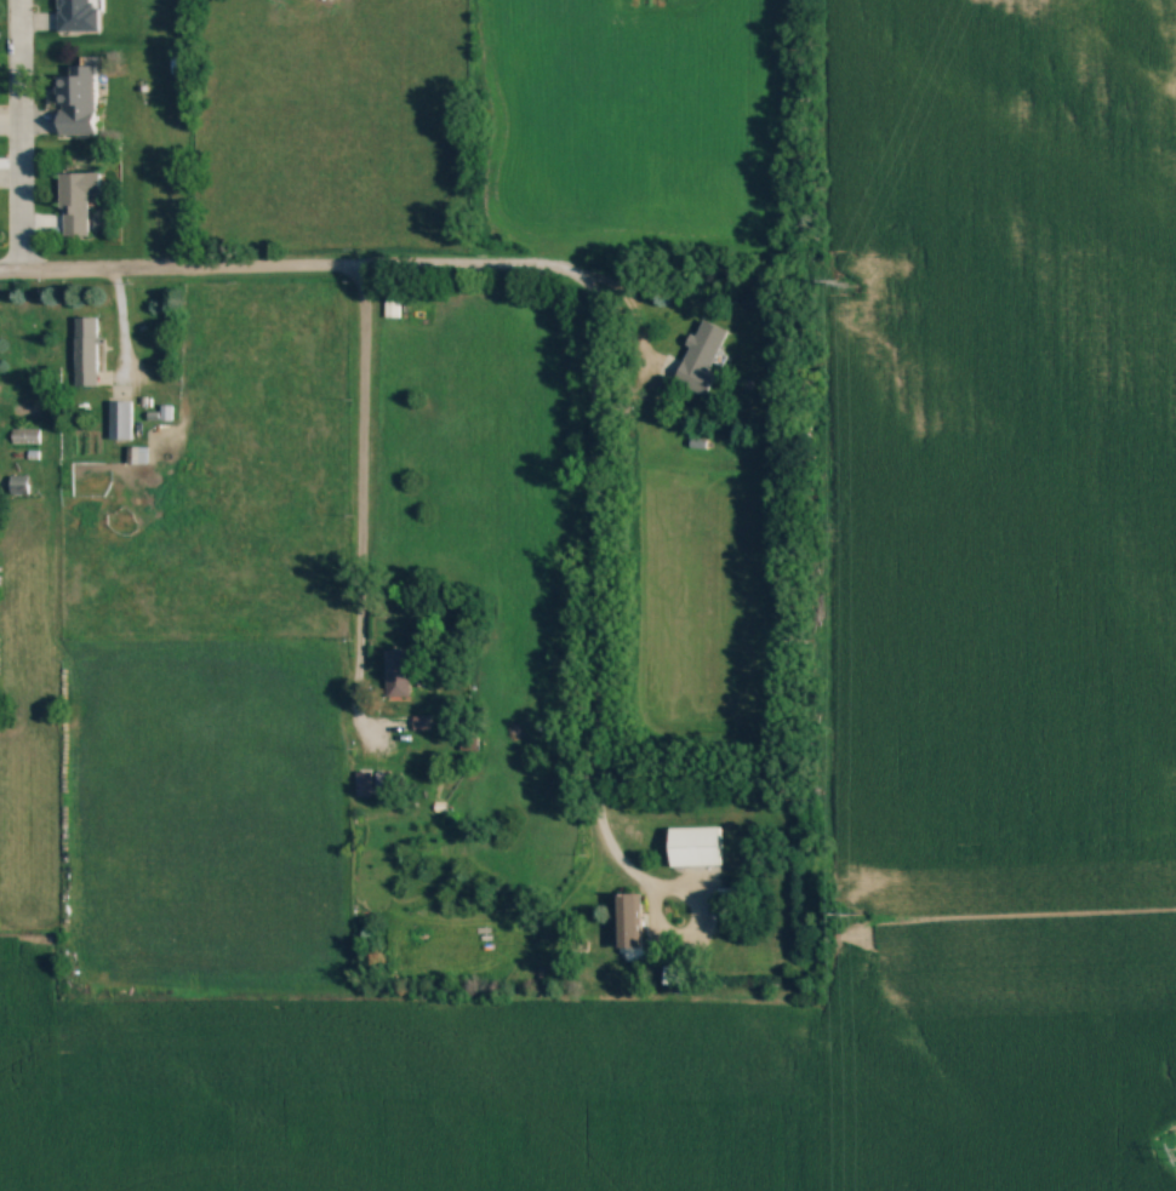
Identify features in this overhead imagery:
building: (78, 16)
building: (76, 101)
road: (17, 133)
building: (75, 201)
road: (481, 260)
road: (182, 265)
power tower: (845, 284)
road: (638, 321)
road: (121, 330)
building: (86, 351)
building: (701, 357)
building: (119, 419)
building: (136, 456)
building: (18, 485)
road: (362, 500)
building: (396, 674)
road: (598, 675)
building: (364, 783)
building: (695, 847)
power tower: (855, 912)
building: (627, 921)

